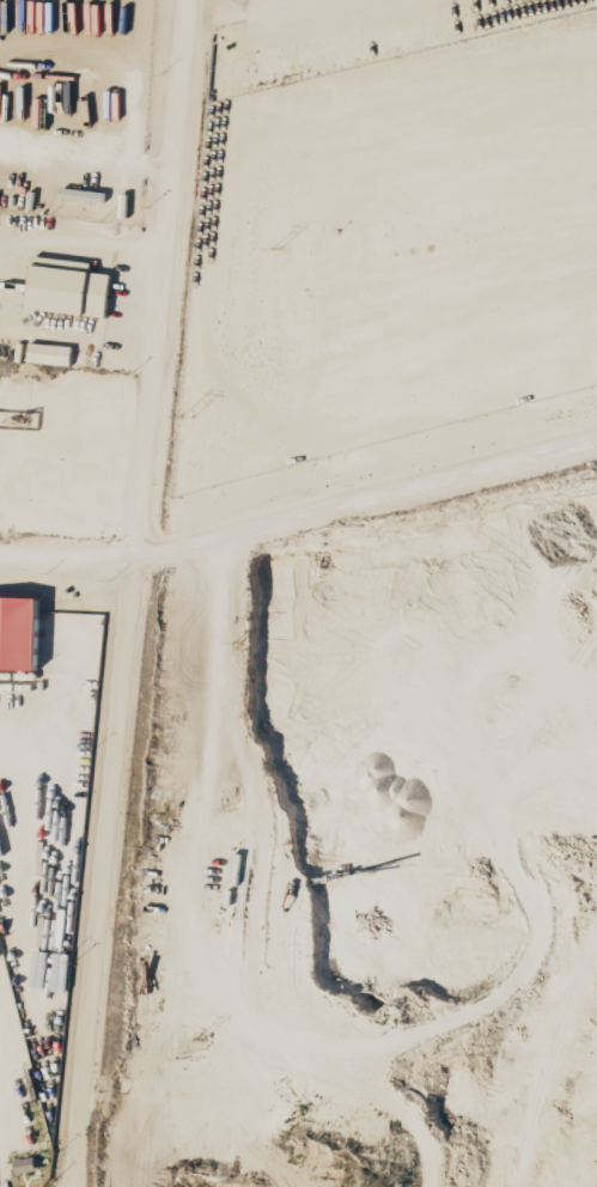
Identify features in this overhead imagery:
building: (85, 194)
road: (81, 241)
power tower: (275, 249)
building: (73, 287)
building: (53, 354)
petroleum well: (17, 415)
power tower: (185, 418)
road: (300, 513)
road: (138, 593)
building: (23, 633)
power tower: (234, 645)
power tower: (145, 850)
power tower: (197, 1039)
building: (29, 1165)

